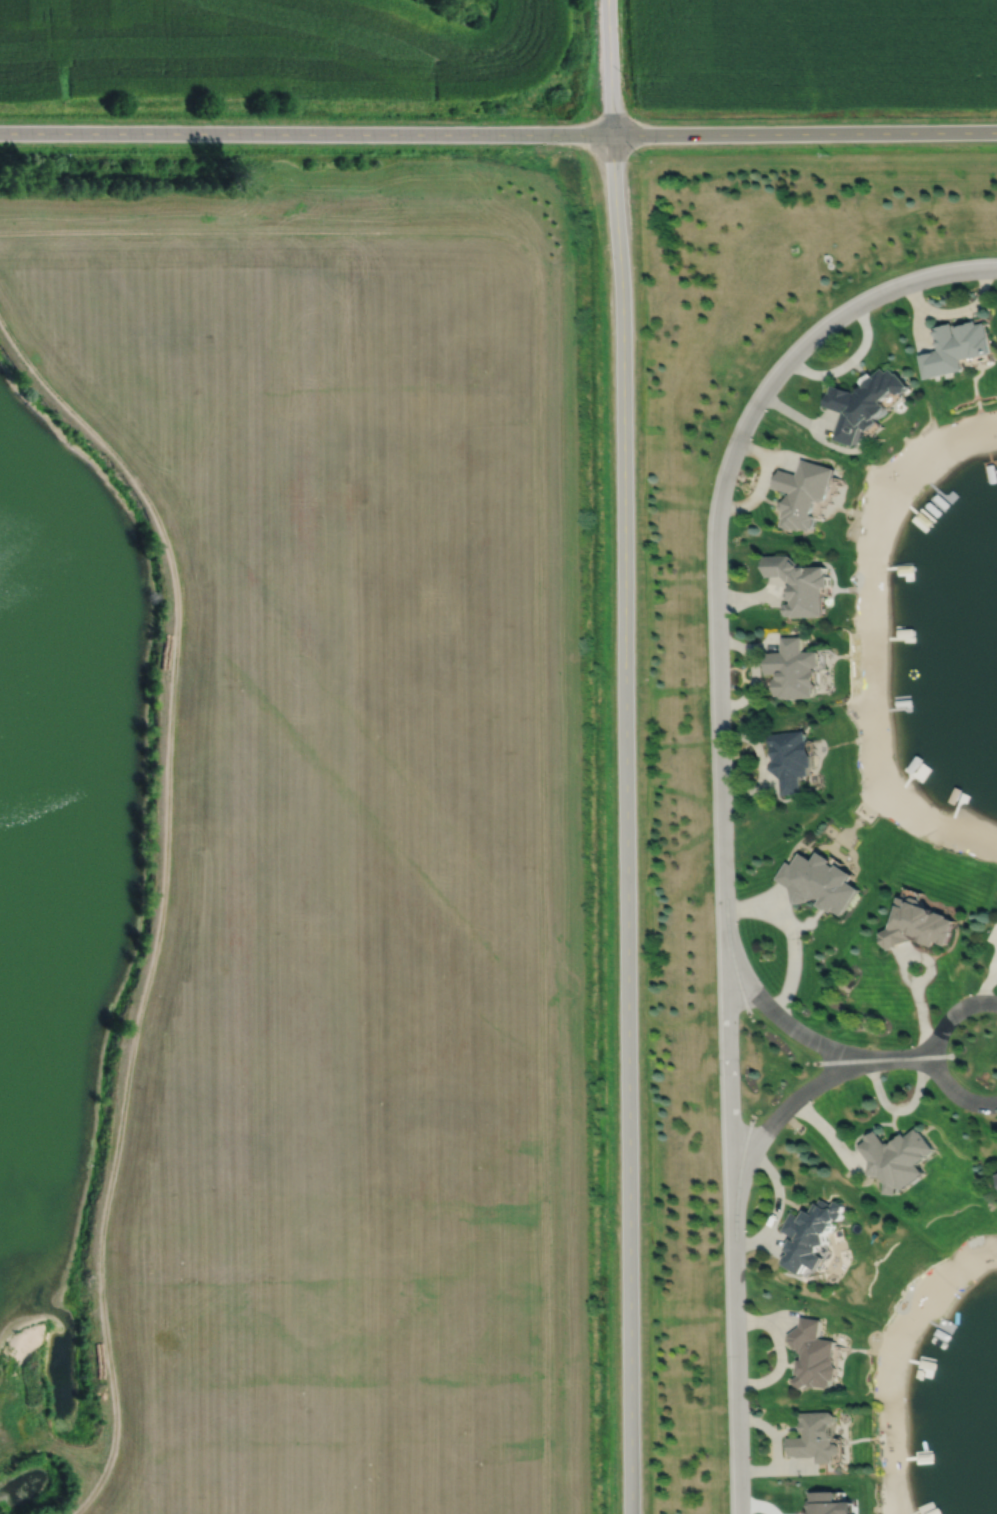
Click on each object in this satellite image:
crop: (276, 50)
crop: (815, 51)
road: (611, 67)
road: (498, 134)
road: (936, 276)
building: (955, 348)
building: (863, 404)
building: (803, 493)
building: (799, 586)
building: (793, 671)
building: (791, 757)
road: (626, 824)
road: (723, 872)
building: (819, 881)
road: (162, 896)
building: (915, 924)
road: (984, 986)
road: (777, 1016)
road: (935, 1053)
road: (809, 1089)
building: (897, 1159)
building: (809, 1235)
road: (780, 1353)
building: (812, 1355)
building: (815, 1436)
building: (828, 1503)

